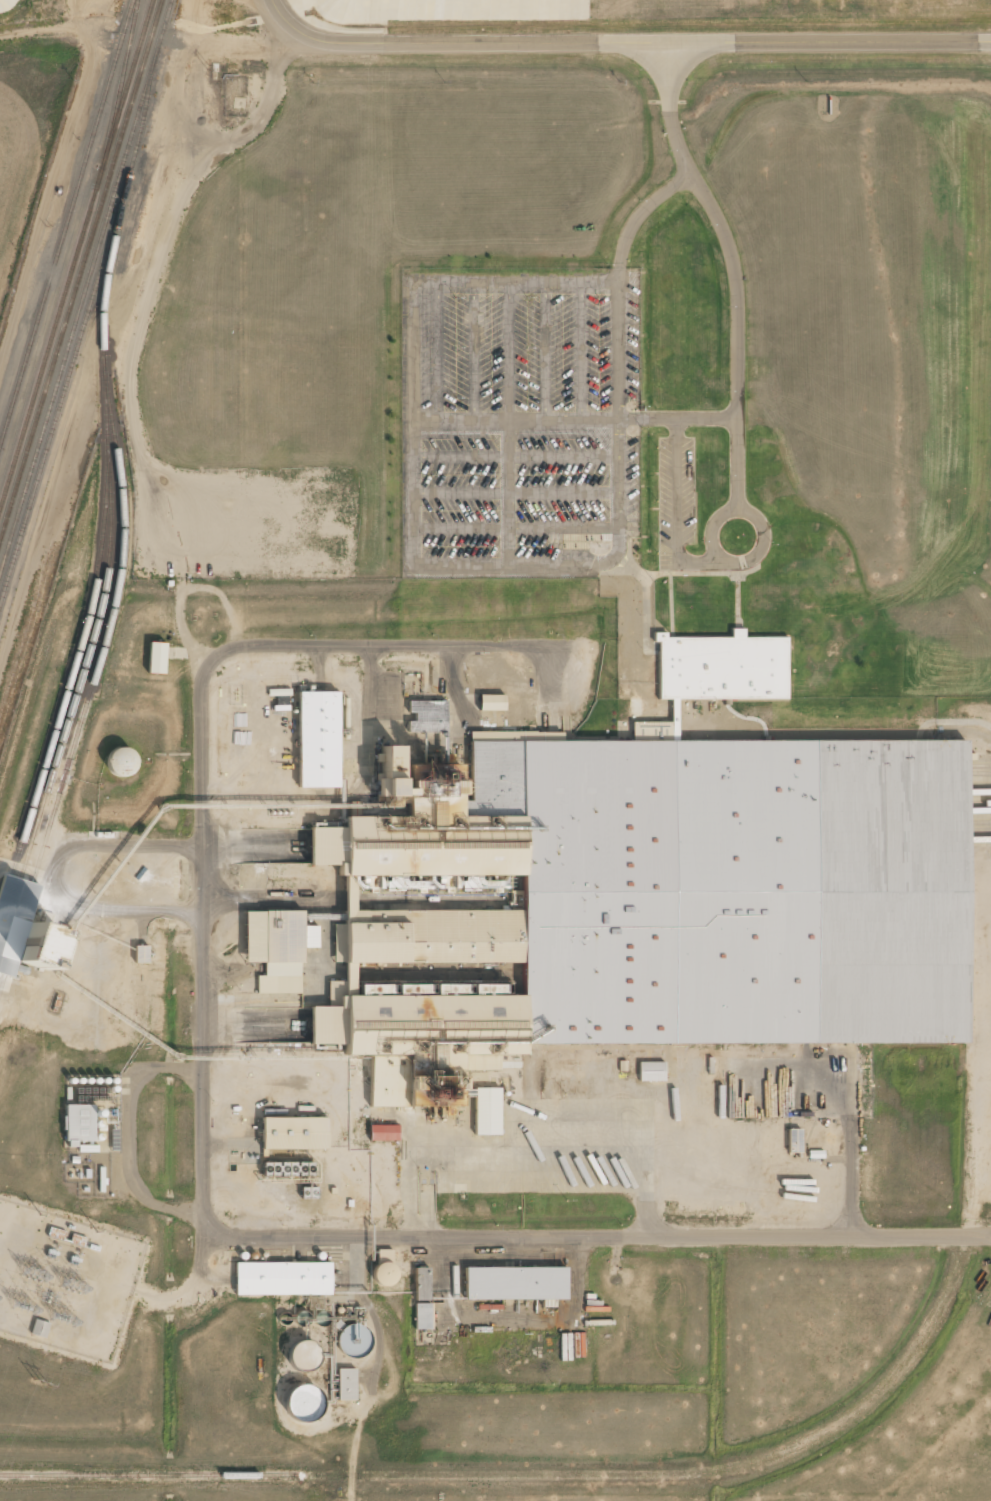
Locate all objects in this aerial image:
building: (10, 5)
road: (48, 29)
road: (621, 42)
railway: (124, 74)
railway: (66, 222)
railway: (76, 253)
railway: (80, 266)
road: (732, 269)
railway: (86, 287)
railway: (81, 333)
road: (438, 351)
road: (475, 351)
road: (546, 351)
road: (580, 351)
road: (575, 419)
parking lot: (520, 423)
road: (508, 426)
road: (517, 457)
road: (517, 495)
parking lot: (677, 503)
road: (677, 510)
road: (753, 516)
railway: (121, 519)
road: (517, 526)
road: (478, 567)
road: (685, 574)
railway: (101, 601)
road: (738, 605)
road: (671, 606)
road: (647, 617)
railway: (86, 624)
building: (157, 658)
building: (723, 667)
building: (492, 703)
building: (429, 725)
building: (657, 728)
building: (318, 739)
building: (644, 901)
building: (24, 930)
building: (276, 948)
building: (651, 1072)
building: (487, 1111)
building: (80, 1123)
building: (384, 1132)
building: (294, 1133)
road: (203, 1154)
building: (384, 1274)
building: (283, 1278)
power substation: (64, 1281)
building: (515, 1283)
building: (422, 1284)
building: (423, 1316)
building: (40, 1329)
building: (353, 1337)
building: (303, 1355)
power tower: (44, 1383)
building: (346, 1384)
railway: (149, 1476)

